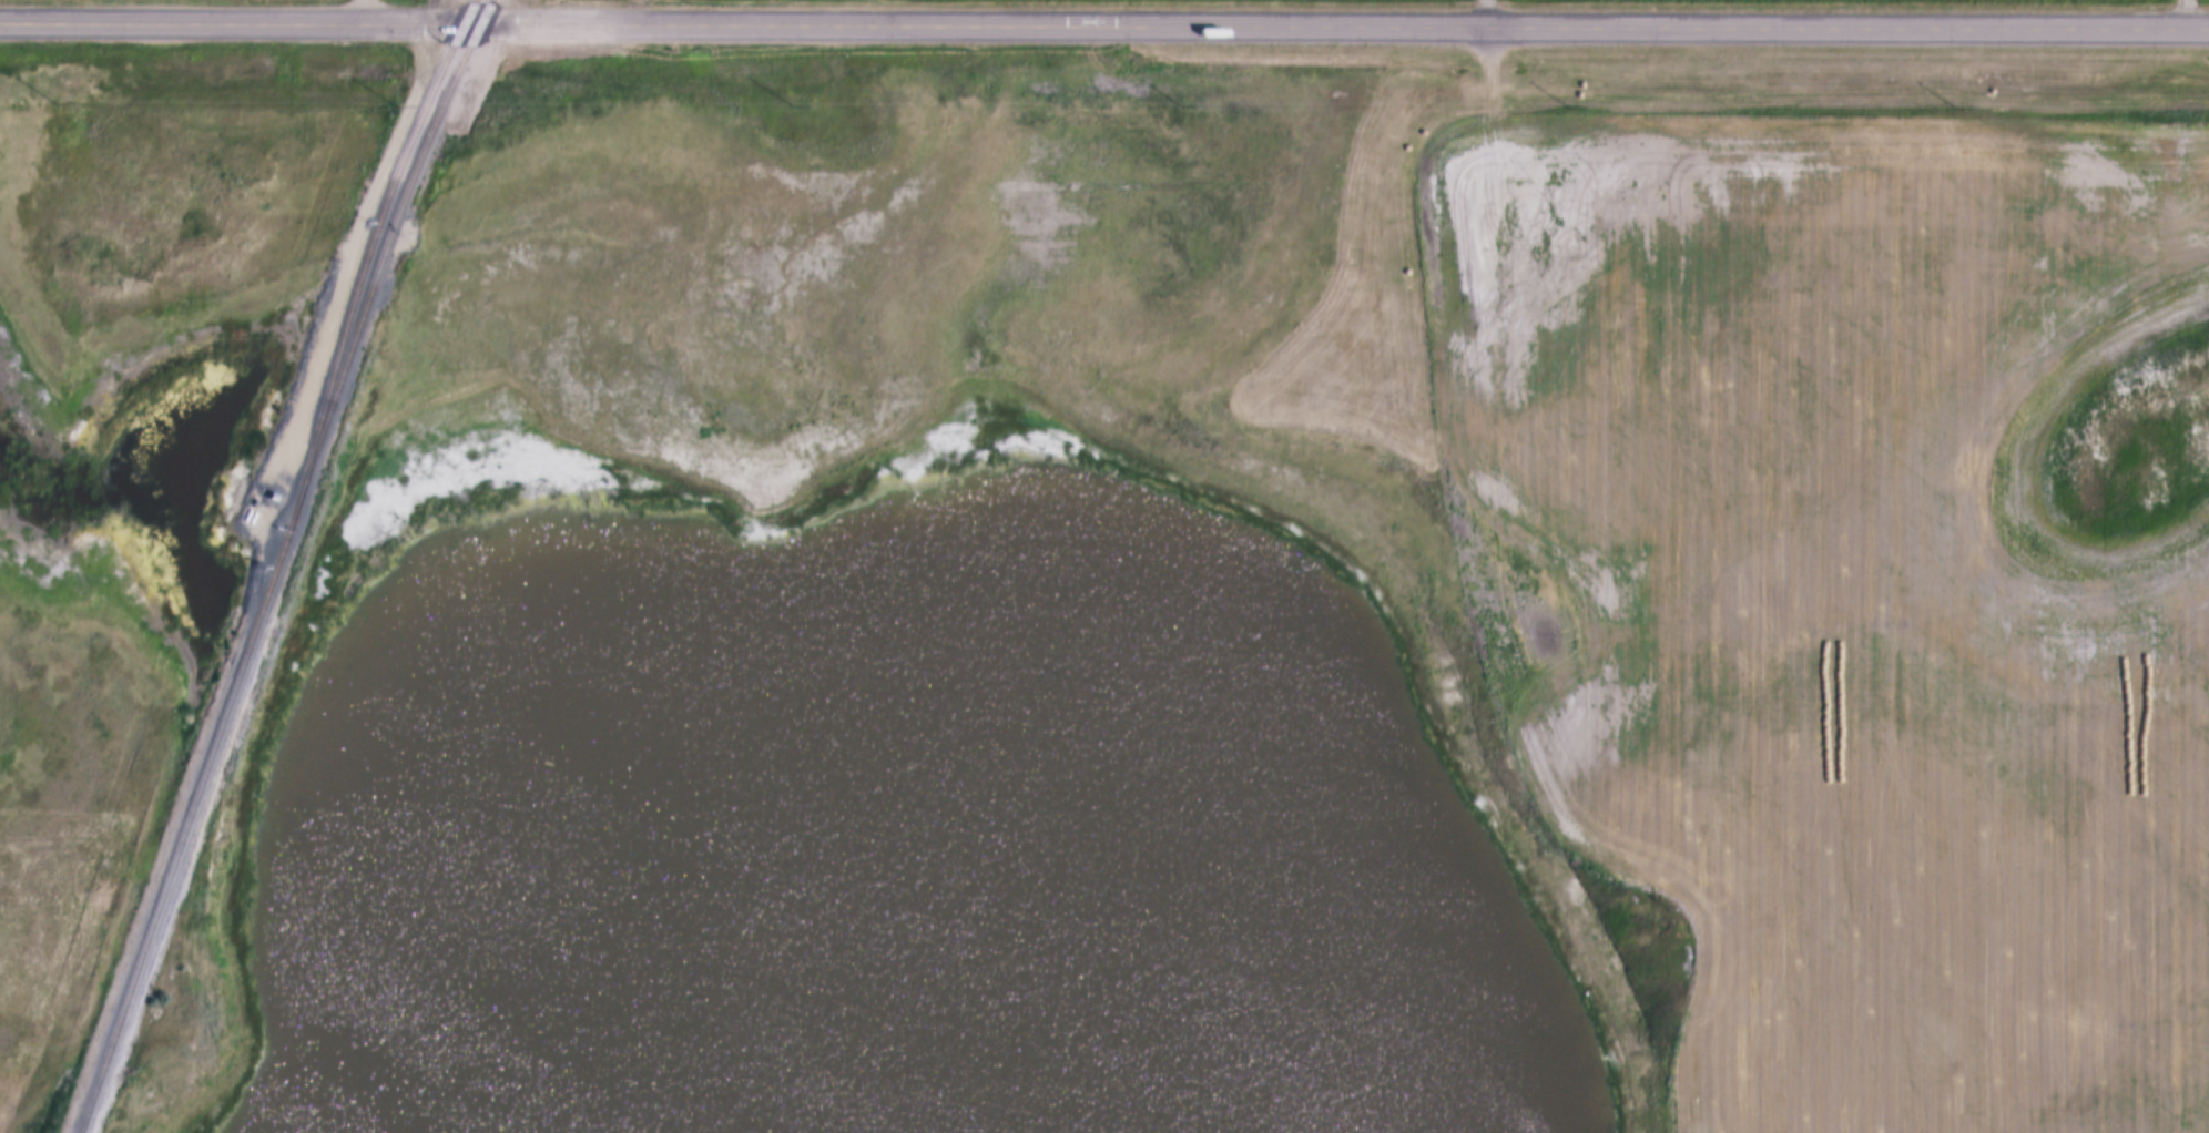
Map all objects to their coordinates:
road: (1103, 24)
railway: (275, 562)

